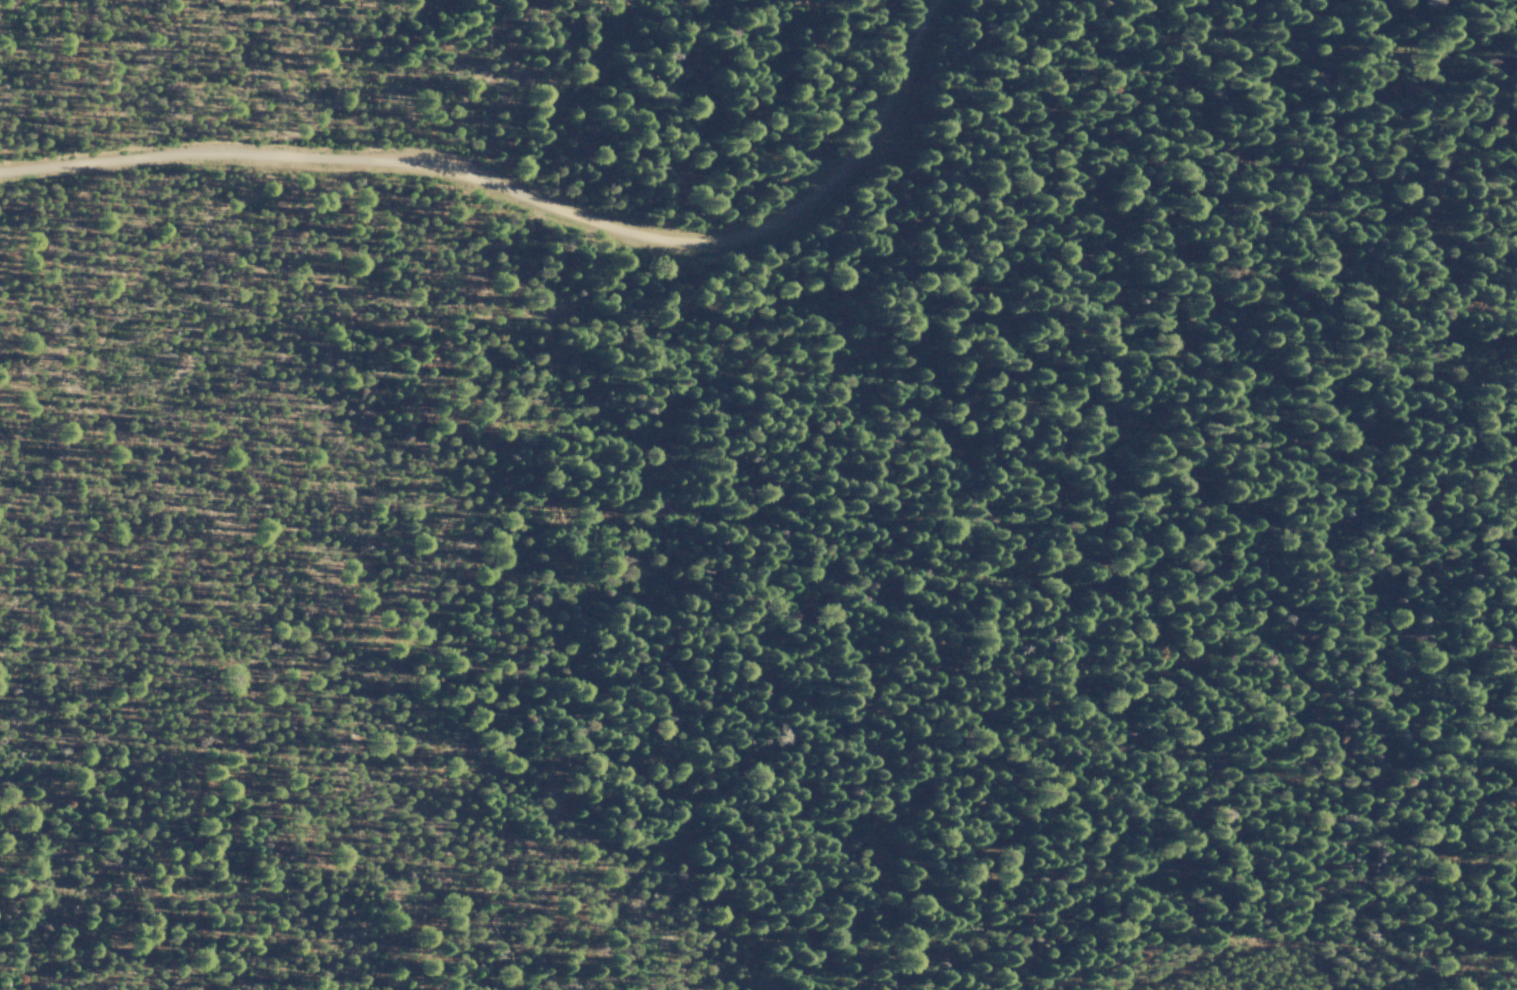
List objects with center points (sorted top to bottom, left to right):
road: (532, 200)

